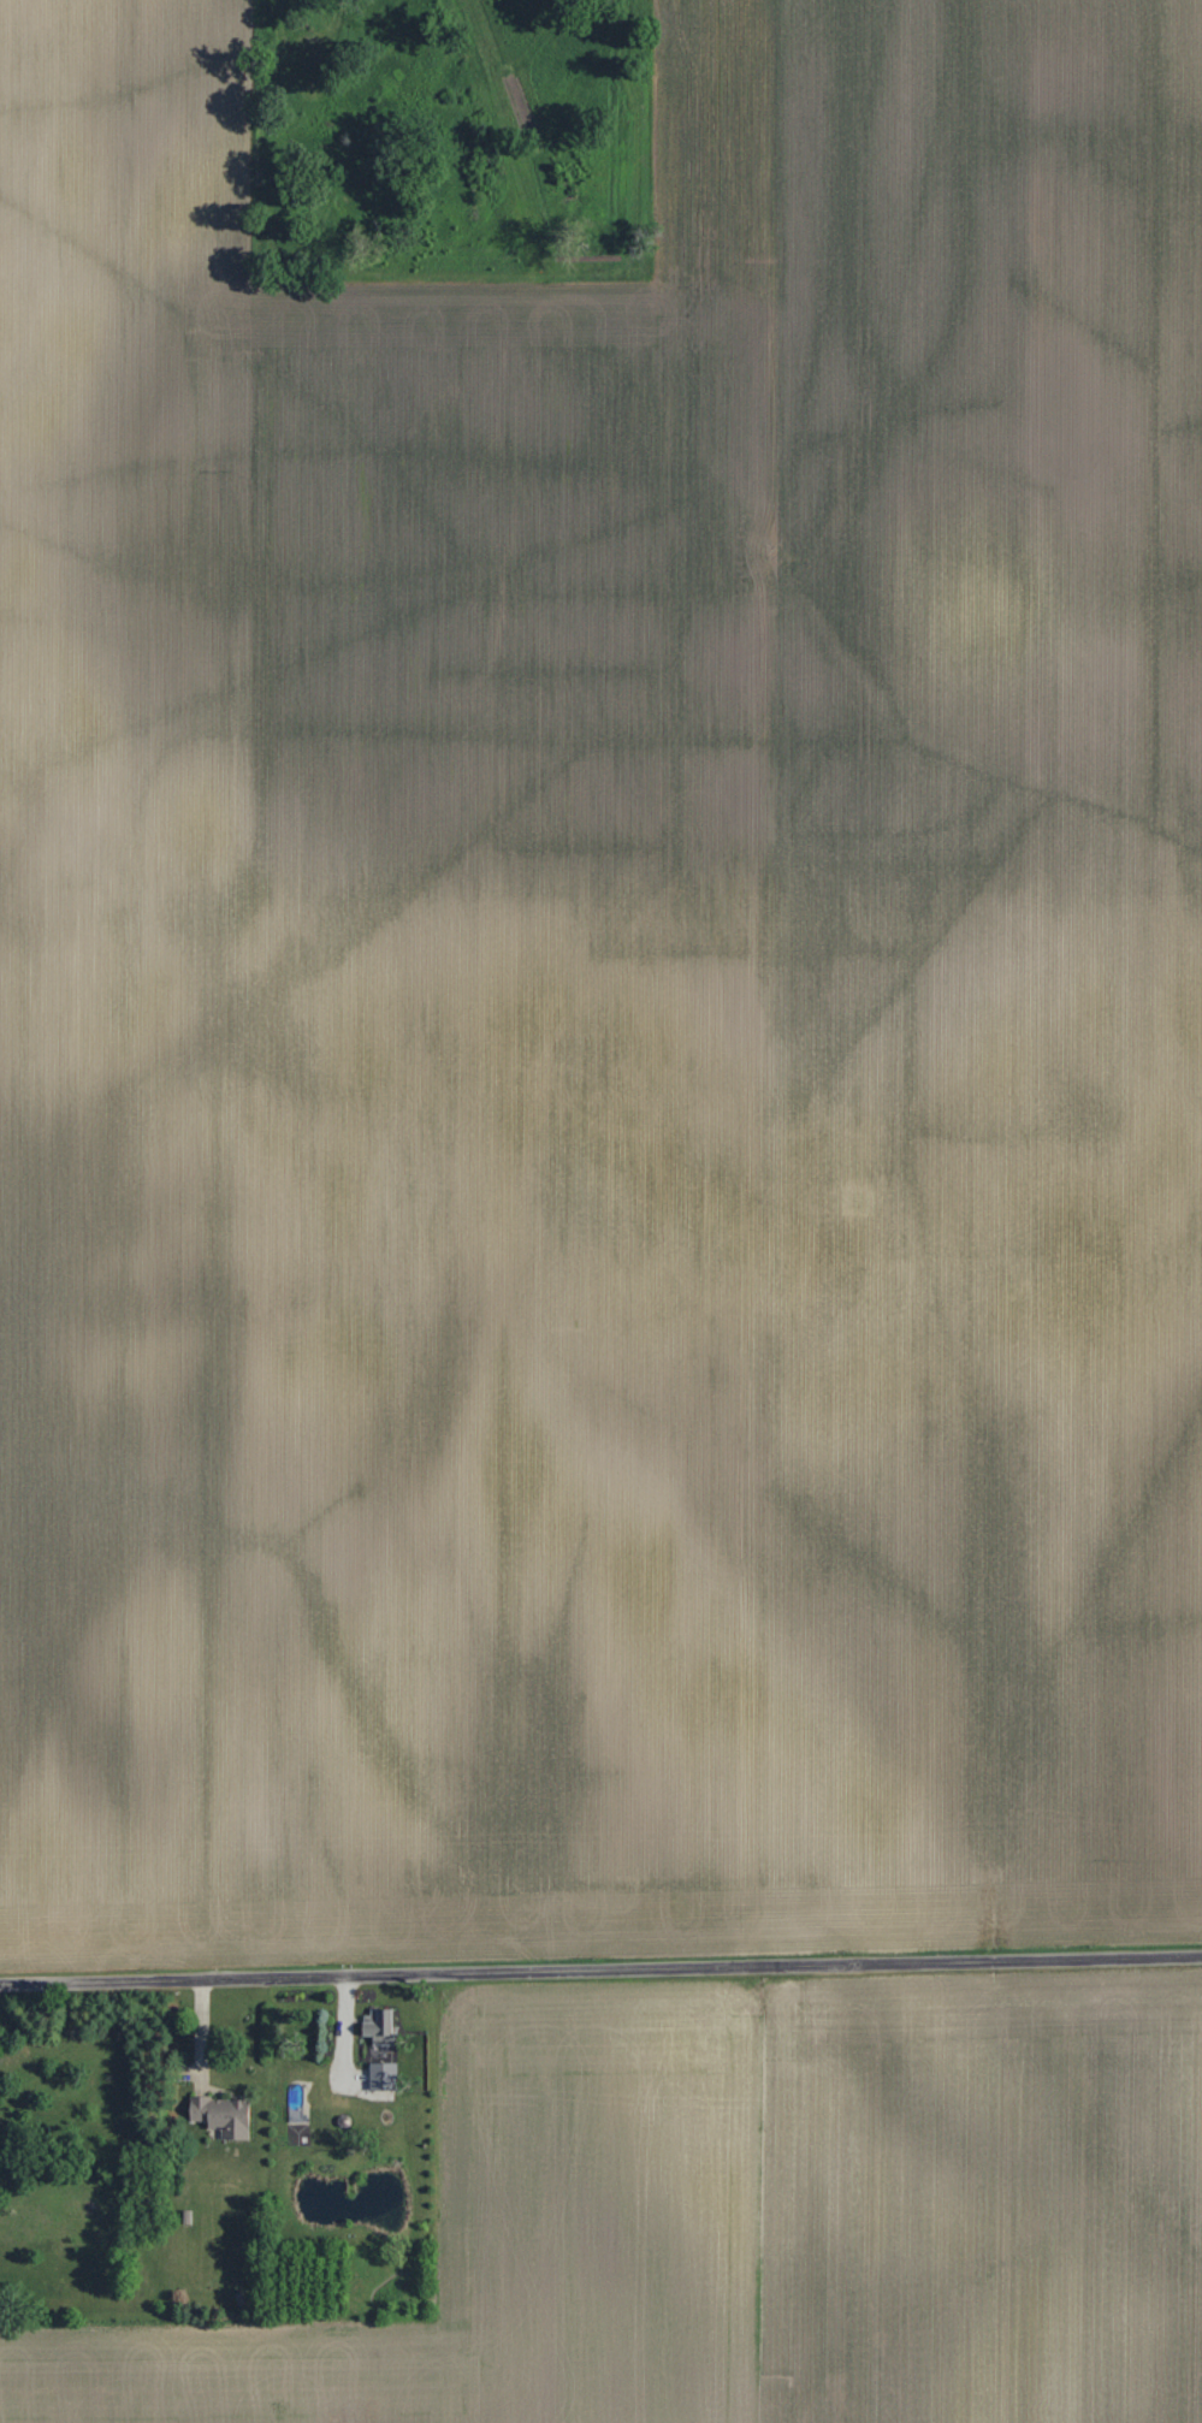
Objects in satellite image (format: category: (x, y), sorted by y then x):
road: (600, 1943)
building: (379, 2026)
building: (384, 2075)
building: (223, 2114)

